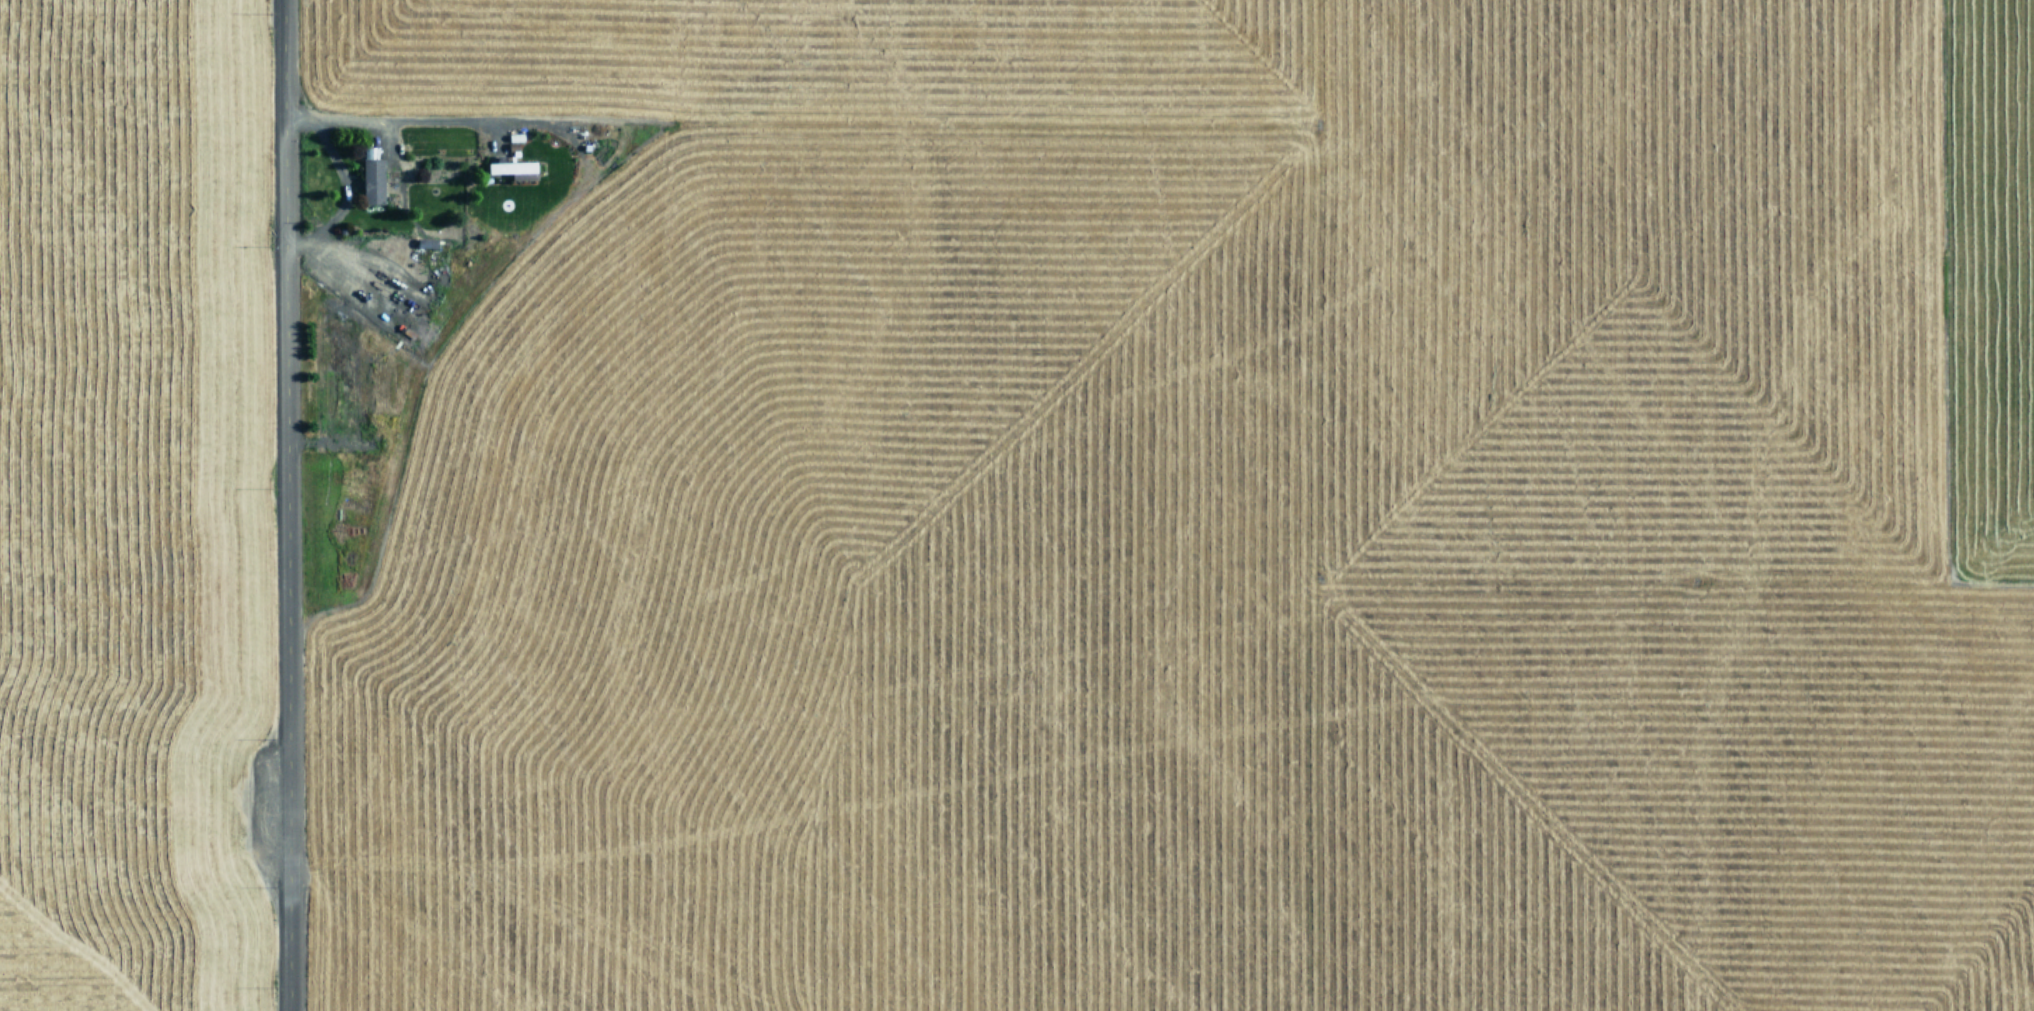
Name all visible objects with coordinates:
crop: (1180, 504)
road: (289, 505)
crop: (130, 506)

